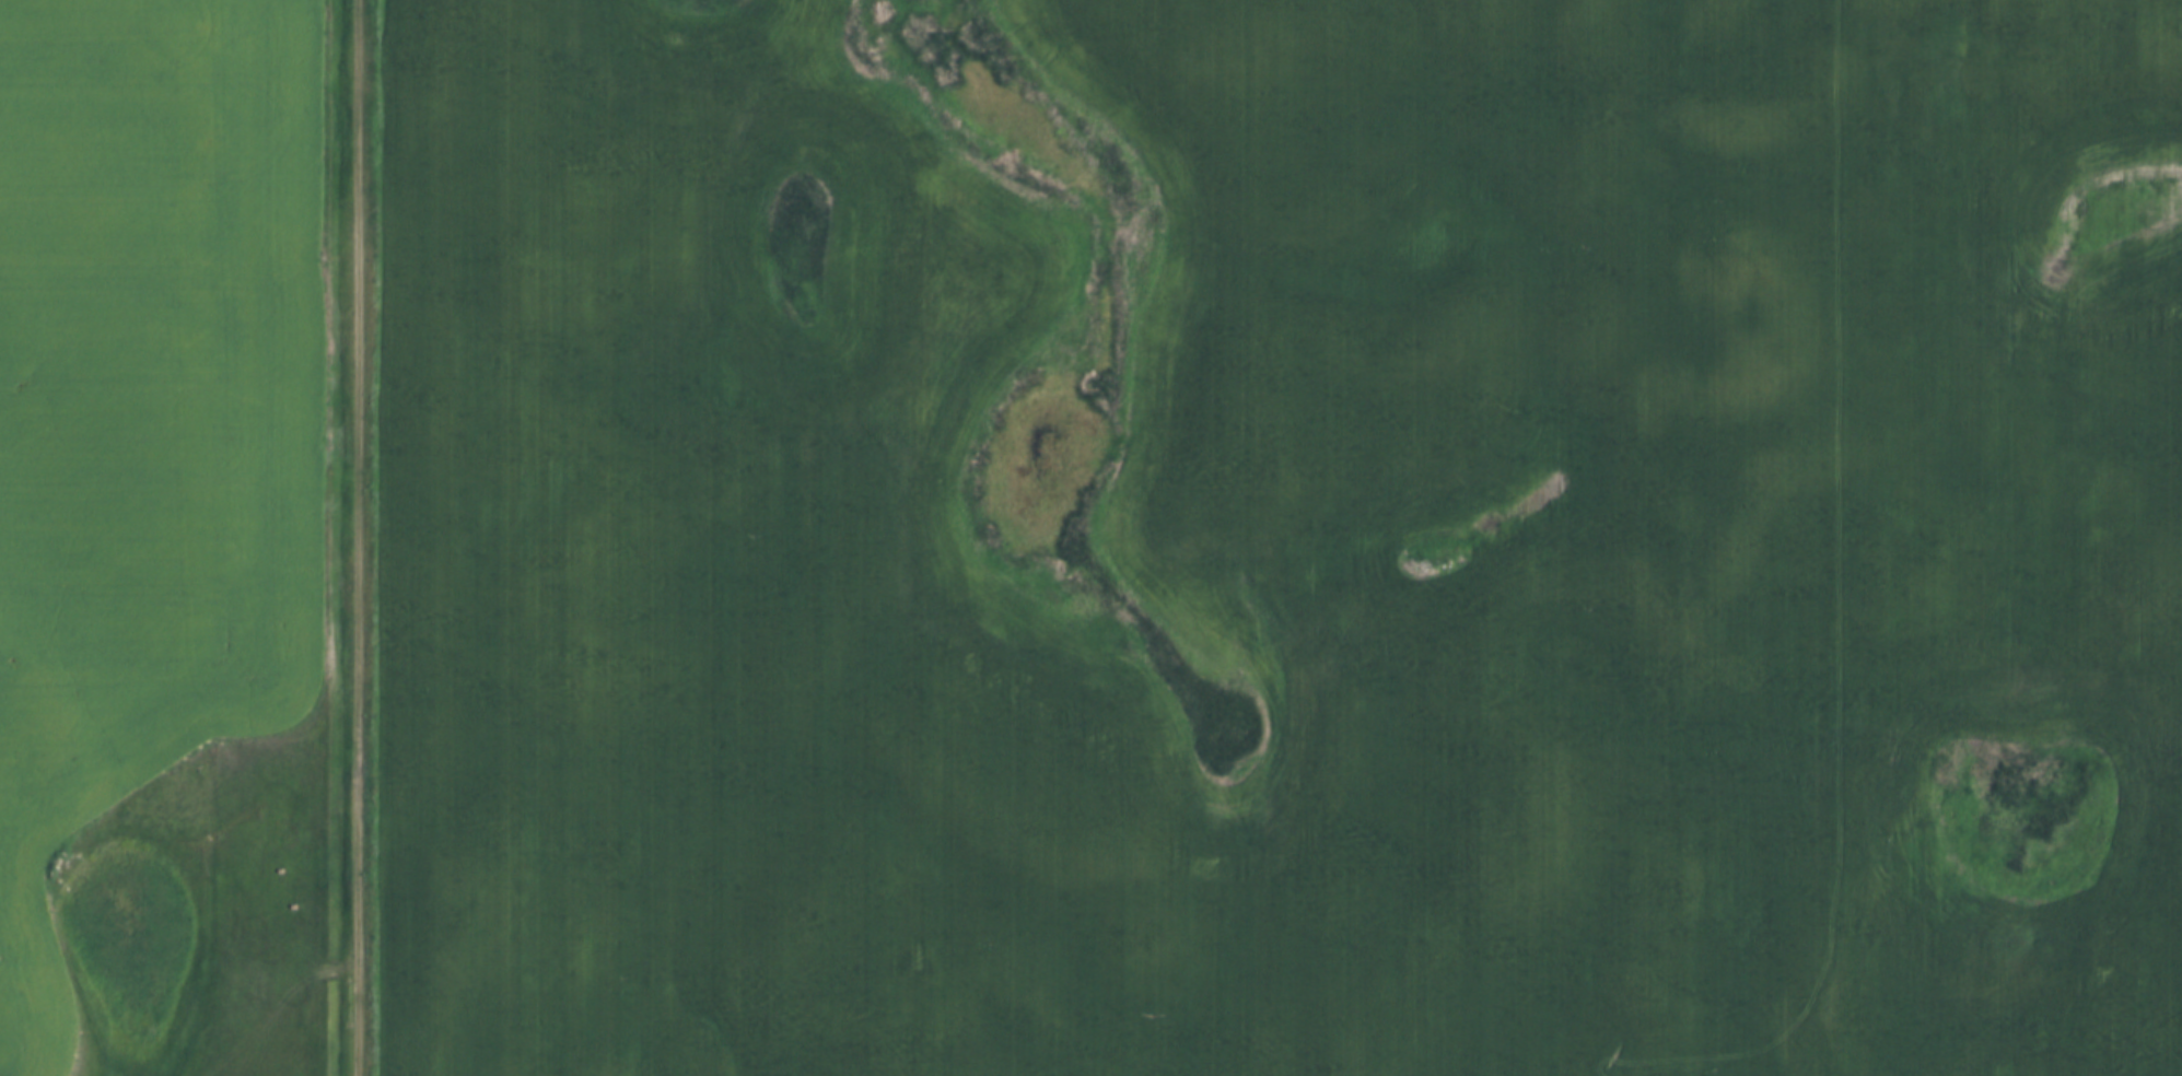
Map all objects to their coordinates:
road: (360, 538)
wind turbine: (1600, 1062)

